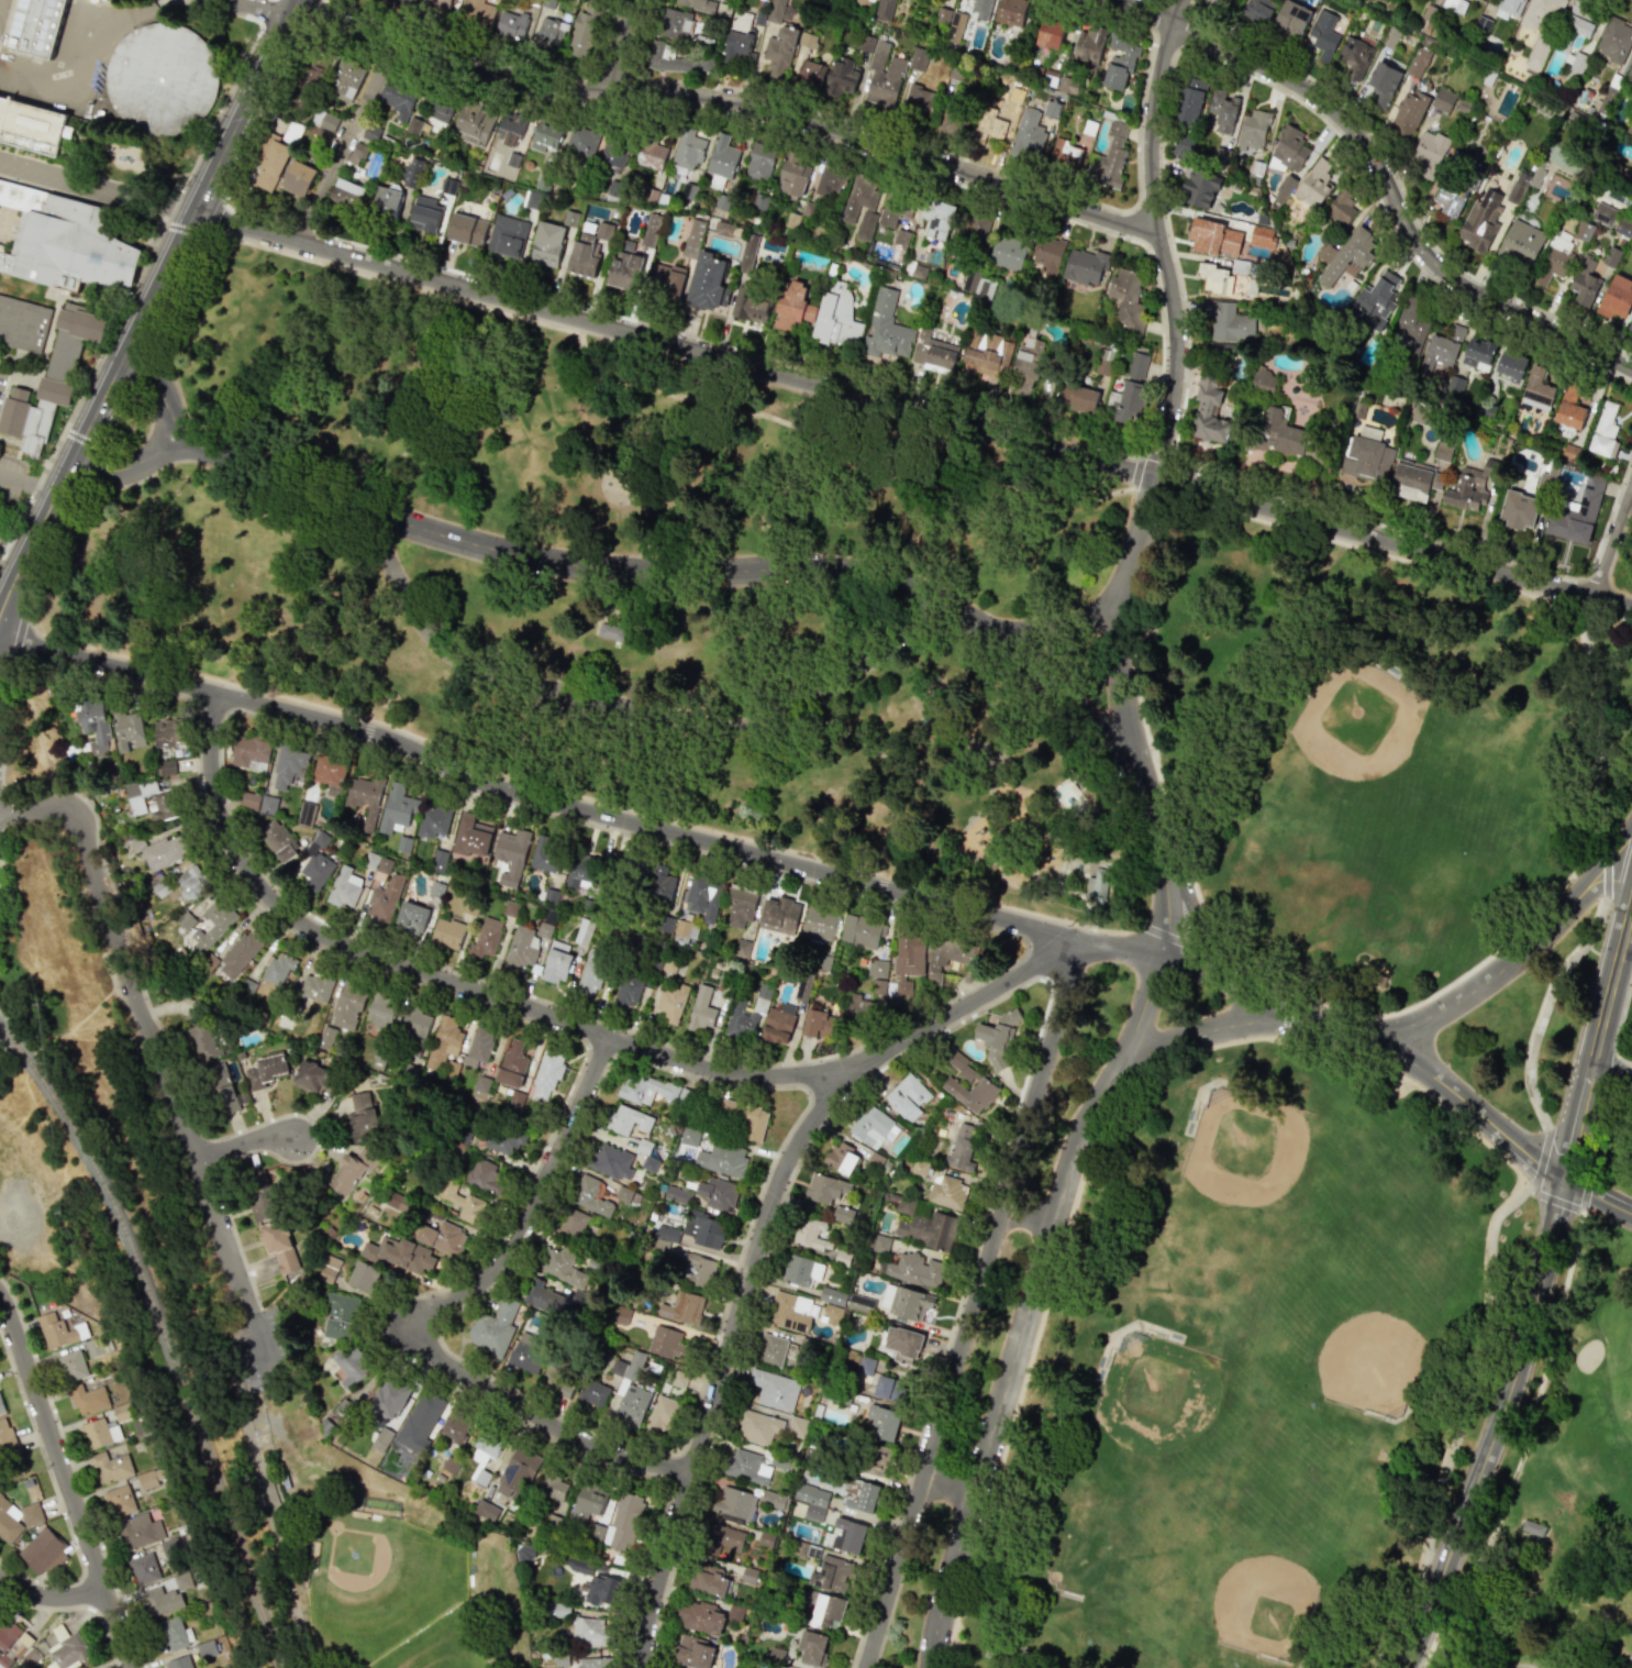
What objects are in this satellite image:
road: (1157, 0)
building: (401, 2)
building: (437, 3)
building: (1218, 3)
building: (697, 4)
road: (262, 7)
building: (981, 8)
building: (1509, 8)
building: (1258, 9)
building: (885, 10)
building: (1010, 11)
building: (478, 12)
road: (314, 13)
building: (775, 13)
building: (942, 16)
building: (1291, 19)
building: (1580, 19)
building: (512, 23)
building: (674, 23)
building: (956, 26)
building: (42, 27)
building: (1536, 30)
building: (582, 31)
building: (549, 33)
building: (1050, 33)
building: (1322, 34)
building: (807, 40)
building: (1613, 42)
building: (736, 43)
road: (623, 46)
building: (1089, 46)
building: (778, 51)
road: (493, 56)
building: (1355, 57)
building: (918, 58)
building: (674, 59)
building: (1418, 62)
building: (1119, 64)
building: (312, 69)
building: (810, 74)
building: (881, 74)
building: (1629, 75)
building: (162, 76)
storage tank: (162, 76)
building: (840, 76)
building: (345, 81)
building: (1383, 82)
building: (398, 97)
building: (1190, 99)
road: (728, 100)
building: (1442, 100)
building: (438, 107)
building: (1222, 109)
road: (264, 112)
building: (1409, 112)
road: (711, 114)
building: (324, 120)
building: (474, 121)
building: (951, 121)
building: (989, 124)
building: (31, 125)
building: (413, 125)
building: (1630, 125)
building: (1253, 130)
building: (370, 132)
building: (1026, 132)
building: (546, 134)
road: (343, 140)
building: (581, 142)
building: (1184, 144)
building: (687, 148)
building: (1289, 148)
building: (356, 153)
building: (613, 153)
building: (1428, 153)
building: (1064, 155)
building: (650, 156)
building: (722, 157)
road: (964, 159)
building: (1110, 159)
building: (759, 161)
building: (271, 166)
building: (410, 172)
building: (793, 174)
building: (298, 178)
building: (858, 180)
road: (1381, 180)
building: (829, 183)
building: (1314, 183)
road: (100, 186)
road: (1400, 187)
building: (1199, 188)
building: (346, 194)
building: (1448, 200)
building: (387, 202)
building: (1340, 210)
building: (892, 212)
building: (847, 213)
building: (424, 214)
building: (1602, 214)
road: (212, 216)
building: (865, 225)
building: (466, 229)
building: (725, 229)
building: (936, 229)
building: (1623, 229)
building: (648, 230)
building: (976, 230)
building: (1583, 231)
building: (507, 235)
building: (692, 236)
building: (1262, 236)
building: (900, 238)
building: (1214, 238)
building: (63, 242)
building: (547, 243)
building: (1521, 243)
building: (1009, 248)
building: (588, 250)
building: (750, 251)
building: (1047, 254)
building: (1345, 256)
building: (1554, 257)
building: (624, 266)
building: (1084, 266)
road: (1419, 268)
building: (665, 280)
building: (708, 281)
building: (1584, 281)
building: (1616, 297)
building: (1126, 298)
building: (1378, 299)
building: (790, 305)
road: (151, 306)
building: (751, 307)
building: (836, 317)
building: (1226, 321)
building: (1410, 322)
building: (22, 324)
building: (885, 328)
building: (1631, 328)
building: (987, 351)
building: (933, 353)
building: (1437, 353)
building: (1477, 353)
road: (667, 358)
road: (797, 365)
building: (1026, 365)
building: (1510, 367)
building: (51, 377)
building: (1133, 380)
building: (1263, 382)
building: (1537, 388)
road: (164, 393)
building: (1084, 399)
building: (1569, 408)
road: (914, 411)
building: (1210, 412)
building: (1421, 417)
road: (1179, 418)
building: (1603, 430)
building: (1442, 451)
road: (221, 459)
building: (1366, 460)
road: (1134, 471)
building: (1413, 480)
road: (1152, 482)
road: (27, 483)
building: (1468, 488)
road: (1610, 506)
building: (1519, 509)
building: (1576, 513)
road: (1611, 535)
road: (13, 543)
road: (642, 570)
road: (1583, 577)
road: (1076, 625)
building: (611, 631)
road: (1045, 674)
road: (621, 694)
road: (1590, 705)
building: (95, 723)
building: (127, 730)
building: (168, 732)
road: (1147, 732)
street lamp: (1581, 741)
building: (249, 751)
building: (289, 766)
building: (166, 767)
building: (330, 771)
road: (535, 797)
building: (365, 798)
building: (248, 799)
building: (149, 800)
building: (266, 804)
building: (397, 808)
park: (1390, 814)
building: (433, 820)
building: (471, 837)
building: (277, 839)
building: (546, 853)
building: (511, 854)
building: (438, 861)
building: (315, 864)
building: (382, 864)
road: (1605, 866)
building: (581, 871)
building: (191, 881)
building: (660, 884)
building: (344, 887)
building: (1097, 887)
building: (702, 897)
building: (384, 899)
building: (740, 906)
building: (779, 915)
building: (411, 919)
building: (186, 921)
building: (819, 923)
building: (212, 924)
building: (544, 929)
building: (681, 930)
building: (859, 930)
building: (447, 932)
building: (485, 938)
building: (740, 947)
building: (520, 949)
road: (1118, 950)
building: (951, 951)
building: (238, 954)
building: (209, 961)
road: (1508, 961)
building: (556, 962)
building: (907, 964)
building: (278, 969)
building: (876, 969)
building: (591, 972)
road: (469, 984)
building: (315, 986)
building: (878, 986)
building: (626, 992)
building: (802, 992)
road: (980, 992)
road: (1254, 994)
park: (1329, 998)
building: (670, 1002)
building: (347, 1006)
road: (1546, 1006)
building: (858, 1007)
building: (701, 1010)
building: (380, 1012)
building: (747, 1014)
road: (77, 1019)
road: (1619, 1021)
building: (415, 1023)
building: (778, 1023)
building: (819, 1023)
road: (145, 1030)
road: (1190, 1034)
railway: (14, 1038)
building: (997, 1039)
road: (1596, 1039)
road: (13, 1041)
building: (203, 1041)
building: (444, 1041)
building: (478, 1046)
building: (512, 1064)
road: (1610, 1071)
road: (1614, 1071)
building: (546, 1074)
building: (310, 1076)
building: (481, 1083)
building: (967, 1084)
building: (221, 1087)
building: (647, 1090)
building: (908, 1096)
road: (1462, 1100)
building: (363, 1115)
building: (746, 1119)
building: (628, 1120)
building: (874, 1127)
road: (1599, 1129)
building: (689, 1137)
building: (503, 1140)
road: (243, 1141)
building: (962, 1147)
building: (841, 1158)
road: (1541, 1158)
building: (722, 1159)
building: (610, 1162)
building: (648, 1163)
road: (1513, 1168)
building: (351, 1171)
building: (482, 1174)
park: (1261, 1179)
building: (824, 1189)
road: (1585, 1191)
building: (718, 1193)
building: (947, 1193)
building: (264, 1194)
building: (623, 1194)
building: (588, 1195)
road: (1598, 1197)
road: (540, 1200)
road: (1553, 1200)
building: (462, 1201)
building: (903, 1205)
building: (407, 1207)
building: (843, 1213)
road: (1026, 1218)
building: (571, 1222)
building: (703, 1229)
building: (929, 1229)
building: (810, 1234)
building: (442, 1237)
building: (663, 1237)
building: (878, 1242)
building: (281, 1248)
building: (401, 1255)
building: (556, 1262)
building: (329, 1269)
building: (696, 1269)
building: (913, 1269)
building: (801, 1270)
building: (363, 1275)
building: (579, 1279)
building: (832, 1295)
building: (543, 1299)
building: (862, 1302)
building: (911, 1304)
road: (969, 1304)
building: (682, 1307)
road: (1030, 1308)
building: (787, 1313)
building: (832, 1314)
building: (620, 1315)
building: (341, 1316)
park: (1370, 1324)
building: (495, 1328)
park: (1618, 1330)
building: (56, 1332)
road: (728, 1339)
road: (258, 1340)
building: (666, 1343)
building: (902, 1344)
building: (770, 1349)
railway: (173, 1354)
building: (525, 1354)
building: (73, 1365)
building: (351, 1365)
building: (864, 1369)
building: (557, 1381)
building: (887, 1388)
building: (774, 1389)
building: (630, 1390)
building: (592, 1394)
building: (87, 1399)
building: (388, 1399)
building: (1, 1406)
park: (1590, 1413)
building: (660, 1415)
park: (1169, 1420)
building: (419, 1422)
building: (885, 1423)
road: (549, 1424)
road: (1010, 1424)
building: (796, 1426)
building: (456, 1427)
building: (757, 1427)
road: (1495, 1428)
building: (99, 1433)
building: (5, 1438)
building: (381, 1438)
building: (482, 1456)
building: (874, 1459)
building: (111, 1466)
building: (746, 1466)
building: (152, 1479)
road: (66, 1483)
road: (946, 1487)
road: (264, 1489)
building: (547, 1493)
building: (858, 1495)
building: (773, 1499)
building: (119, 1501)
building: (588, 1502)
building: (734, 1502)
building: (812, 1503)
building: (486, 1510)
building: (16, 1518)
building: (626, 1518)
building: (554, 1522)
building: (1533, 1527)
building: (138, 1531)
building: (597, 1531)
building: (847, 1536)
building: (723, 1538)
building: (765, 1539)
building: (43, 1551)
building: (525, 1553)
park: (378, 1555)
building: (580, 1564)
building: (144, 1569)
building: (748, 1575)
building: (832, 1575)
park: (1245, 1576)
building: (710, 1580)
building: (602, 1589)
road: (49, 1595)
building: (165, 1598)
building: (558, 1609)
building: (828, 1611)
building: (734, 1613)
building: (700, 1617)
building: (591, 1632)
building: (175, 1633)
building: (11, 1644)
building: (66, 1647)
building: (812, 1647)
building: (207, 1648)
building: (693, 1652)
road: (1613, 1657)
building: (562, 1658)
building: (597, 1661)
building: (178, 1663)
road: (1521, 1665)

